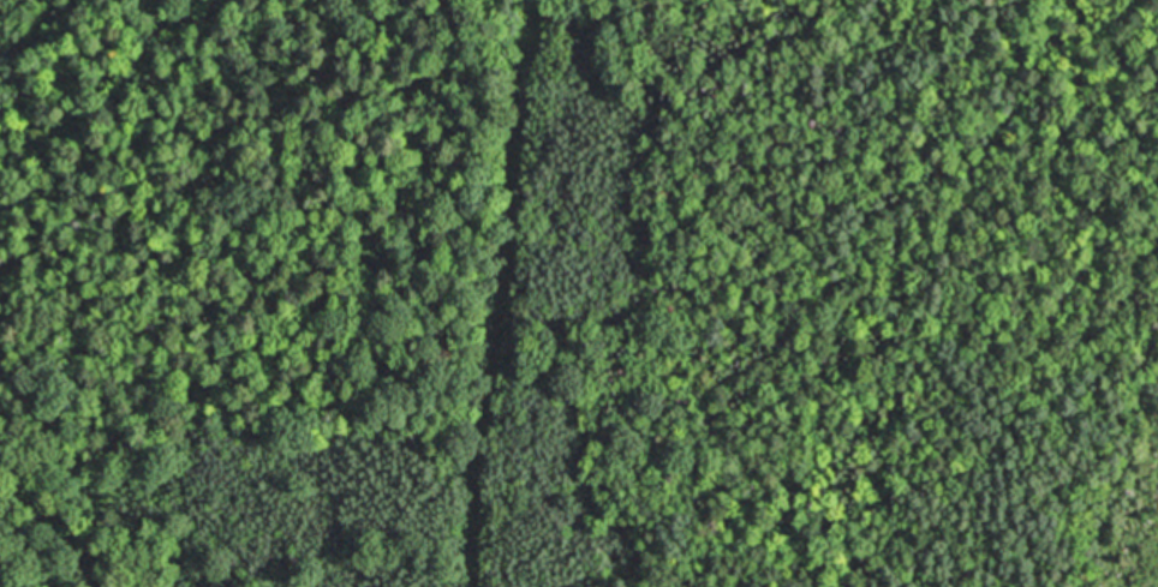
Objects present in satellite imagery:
road: (503, 293)

